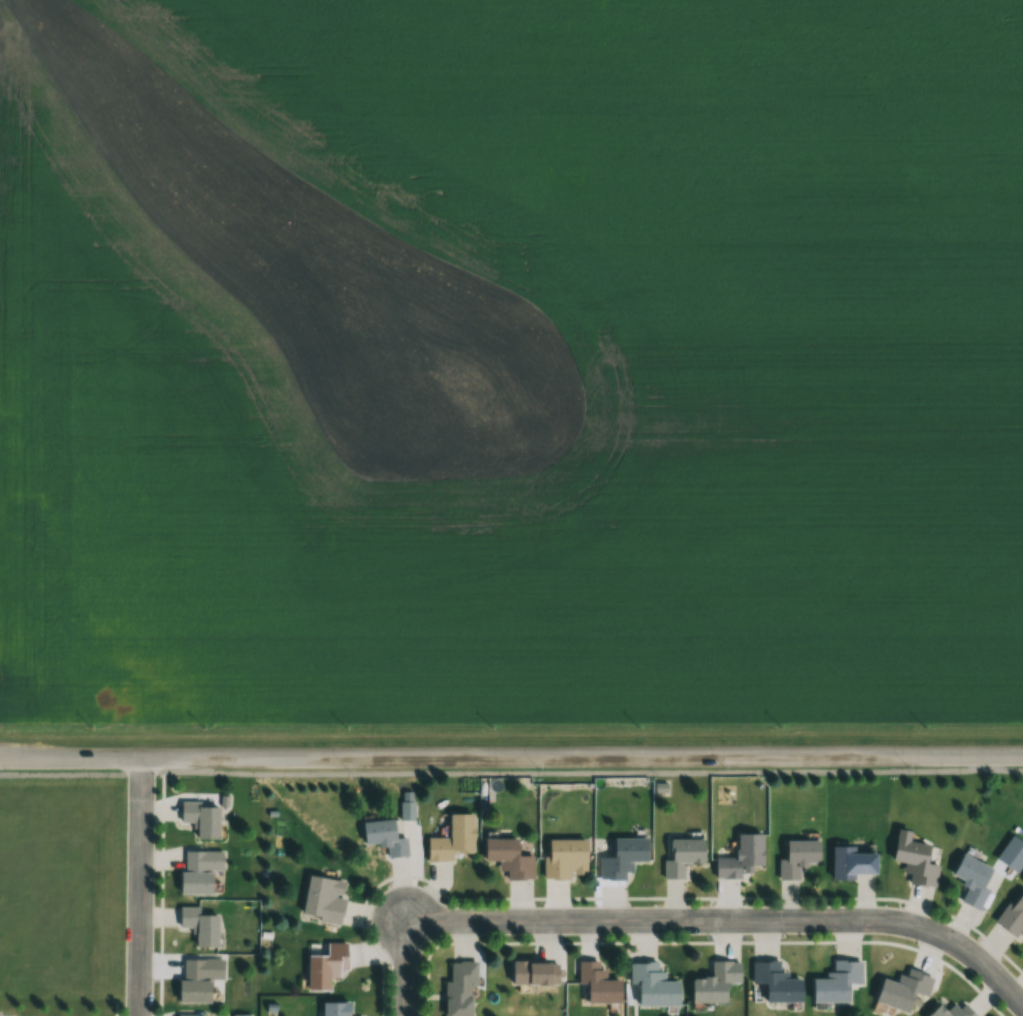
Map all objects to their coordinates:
road: (511, 757)
road: (511, 773)
building: (406, 809)
building: (201, 818)
building: (383, 836)
building: (452, 838)
building: (682, 856)
building: (741, 856)
building: (508, 857)
building: (622, 857)
building: (797, 857)
building: (565, 858)
building: (915, 861)
building: (849, 862)
building: (194, 872)
building: (971, 879)
road: (139, 887)
building: (323, 898)
building: (1013, 915)
road: (681, 919)
building: (199, 925)
building: (324, 962)
building: (533, 972)
building: (199, 978)
building: (775, 981)
building: (836, 981)
building: (714, 982)
building: (597, 983)
building: (652, 985)
building: (459, 988)
building: (903, 990)
building: (334, 1008)
building: (951, 1011)
building: (242, 1015)

